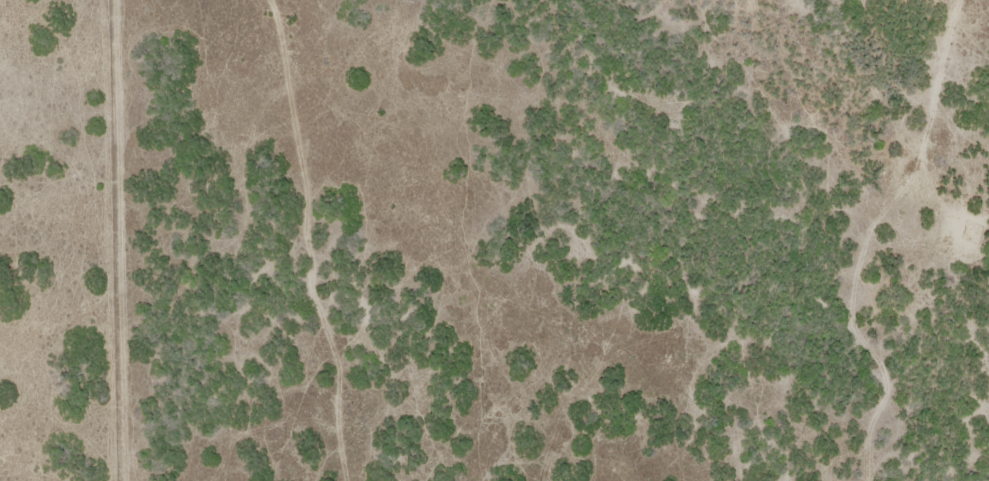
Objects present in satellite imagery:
road: (898, 236)
road: (328, 238)

